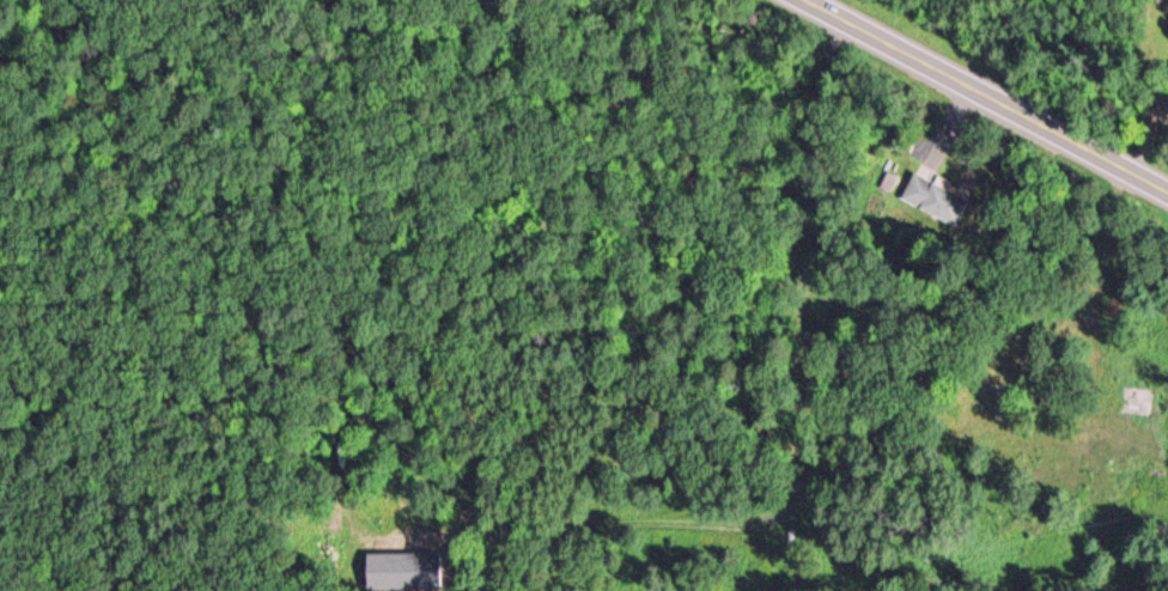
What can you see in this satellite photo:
road: (981, 93)
road: (1158, 145)
building: (933, 199)
building: (1002, 402)

